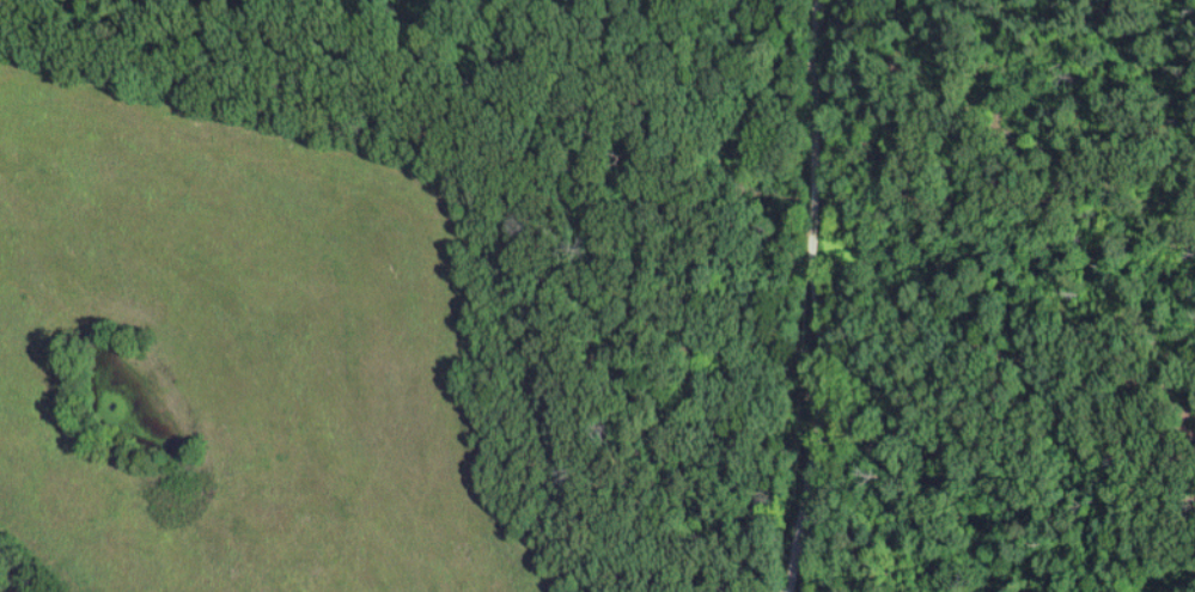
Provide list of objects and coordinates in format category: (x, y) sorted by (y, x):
road: (813, 297)

